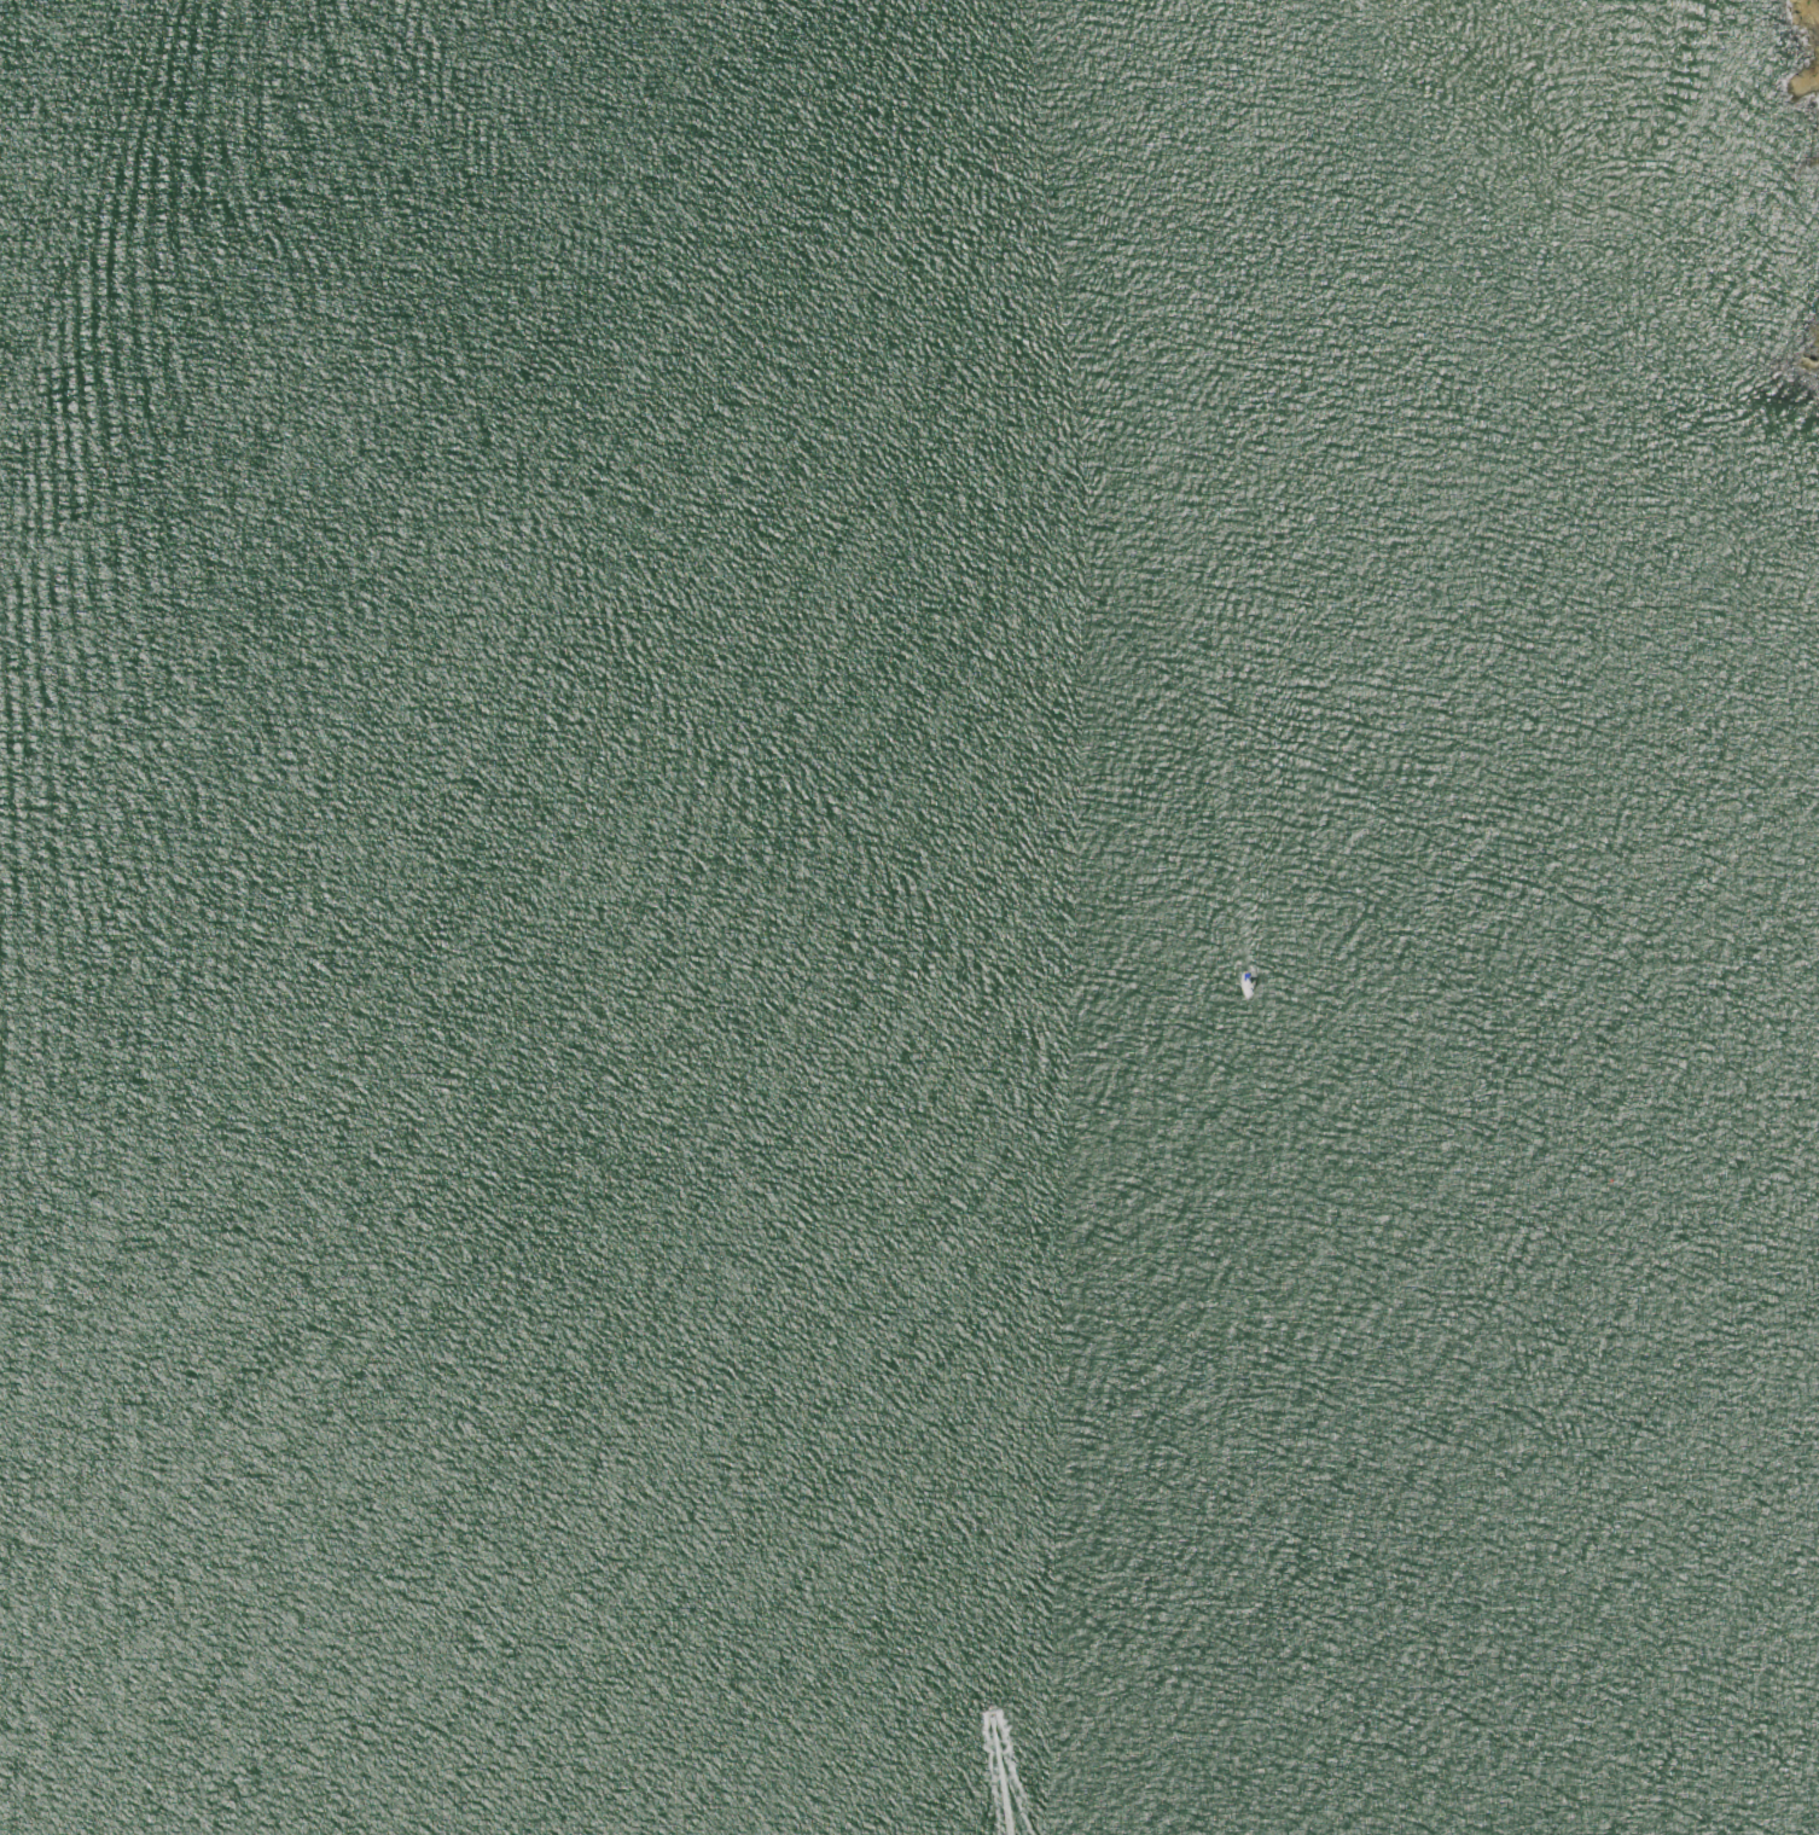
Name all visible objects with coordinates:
park: (1807, 22)
park: (1805, 85)
park: (1818, 116)
park: (1817, 164)
park: (1818, 343)
park: (1808, 365)

